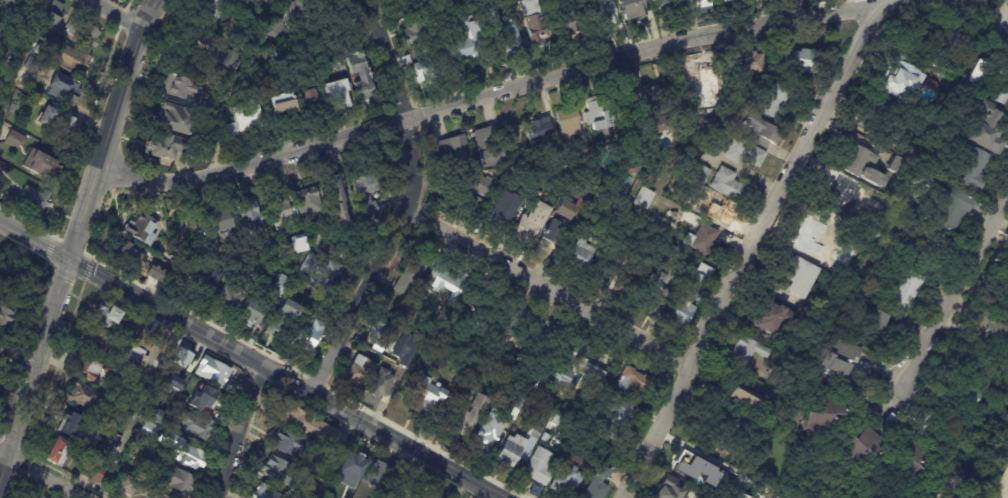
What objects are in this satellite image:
building: (7, 1)
building: (751, 1)
building: (723, 2)
building: (698, 6)
building: (209, 7)
building: (669, 7)
building: (0, 8)
building: (633, 9)
building: (603, 12)
building: (53, 13)
road: (118, 14)
building: (297, 15)
building: (535, 20)
building: (571, 25)
building: (272, 28)
building: (413, 28)
building: (86, 33)
building: (509, 39)
building: (471, 43)
building: (947, 45)
building: (7, 54)
road: (17, 55)
building: (271, 55)
building: (74, 59)
building: (803, 61)
building: (753, 63)
building: (7, 65)
building: (186, 66)
building: (38, 67)
building: (429, 71)
building: (362, 76)
building: (2, 79)
road: (552, 79)
building: (897, 80)
building: (992, 81)
building: (62, 85)
building: (176, 86)
building: (702, 86)
building: (24, 91)
building: (337, 94)
building: (310, 100)
building: (772, 103)
building: (208, 104)
building: (279, 106)
building: (13, 107)
building: (655, 111)
building: (599, 113)
building: (174, 119)
building: (242, 119)
building: (55, 121)
building: (876, 121)
building: (568, 123)
road: (113, 128)
building: (988, 128)
building: (760, 130)
building: (540, 133)
building: (721, 139)
building: (15, 140)
building: (491, 146)
building: (168, 148)
building: (904, 151)
building: (457, 152)
building: (744, 153)
building: (588, 155)
building: (629, 158)
building: (858, 162)
building: (42, 164)
building: (898, 166)
building: (969, 170)
building: (702, 174)
building: (22, 176)
building: (728, 186)
building: (365, 192)
building: (474, 192)
building: (643, 199)
building: (38, 200)
building: (840, 202)
building: (304, 203)
building: (334, 205)
building: (950, 206)
road: (413, 207)
building: (877, 207)
building: (504, 208)
building: (277, 215)
building: (722, 215)
building: (247, 218)
building: (216, 221)
building: (557, 222)
building: (531, 223)
building: (140, 231)
building: (813, 237)
road: (37, 240)
building: (703, 240)
building: (616, 242)
building: (282, 245)
building: (297, 246)
building: (210, 248)
road: (751, 249)
building: (587, 255)
building: (128, 256)
building: (271, 256)
building: (840, 256)
building: (1007, 259)
building: (176, 261)
building: (1007, 266)
building: (253, 269)
building: (187, 271)
building: (153, 275)
building: (409, 276)
building: (327, 277)
building: (800, 278)
building: (206, 284)
building: (450, 284)
building: (278, 286)
road: (553, 288)
building: (629, 288)
building: (906, 291)
building: (655, 293)
building: (291, 296)
road: (952, 296)
building: (1001, 296)
building: (689, 297)
building: (224, 302)
building: (250, 312)
building: (5, 317)
building: (515, 318)
building: (109, 319)
building: (771, 319)
building: (278, 325)
building: (381, 329)
building: (875, 330)
building: (993, 330)
building: (545, 335)
building: (306, 336)
building: (141, 338)
building: (2, 346)
building: (371, 347)
building: (798, 349)
building: (748, 352)
building: (388, 353)
building: (182, 357)
building: (132, 359)
building: (839, 359)
building: (495, 365)
building: (581, 365)
building: (92, 368)
road: (36, 369)
building: (463, 369)
building: (212, 370)
building: (360, 371)
building: (561, 374)
building: (137, 375)
building: (857, 375)
building: (612, 379)
road: (288, 380)
building: (172, 381)
building: (635, 381)
building: (380, 384)
building: (543, 385)
building: (428, 393)
building: (959, 393)
building: (205, 395)
building: (866, 395)
building: (83, 396)
building: (744, 398)
building: (154, 399)
road: (137, 406)
building: (825, 414)
building: (469, 415)
building: (157, 417)
building: (615, 417)
building: (928, 421)
building: (195, 425)
building: (311, 427)
building: (889, 427)
building: (507, 429)
road: (234, 431)
building: (82, 433)
building: (734, 435)
building: (485, 436)
building: (924, 437)
building: (531, 441)
building: (290, 444)
building: (172, 445)
building: (858, 447)
building: (510, 450)
road: (702, 450)
building: (57, 452)
building: (910, 458)
building: (693, 463)
building: (349, 464)
building: (307, 466)
building: (539, 466)
building: (619, 468)
building: (277, 469)
building: (94, 471)
road: (43, 474)
building: (378, 475)
building: (147, 477)
building: (176, 479)
building: (566, 480)
building: (597, 484)
building: (125, 485)
building: (1001, 486)
building: (406, 490)
building: (666, 490)
building: (263, 492)
building: (306, 494)
building: (737, 495)
building: (163, 496)
building: (431, 496)
building: (37, 497)
building: (774, 497)

